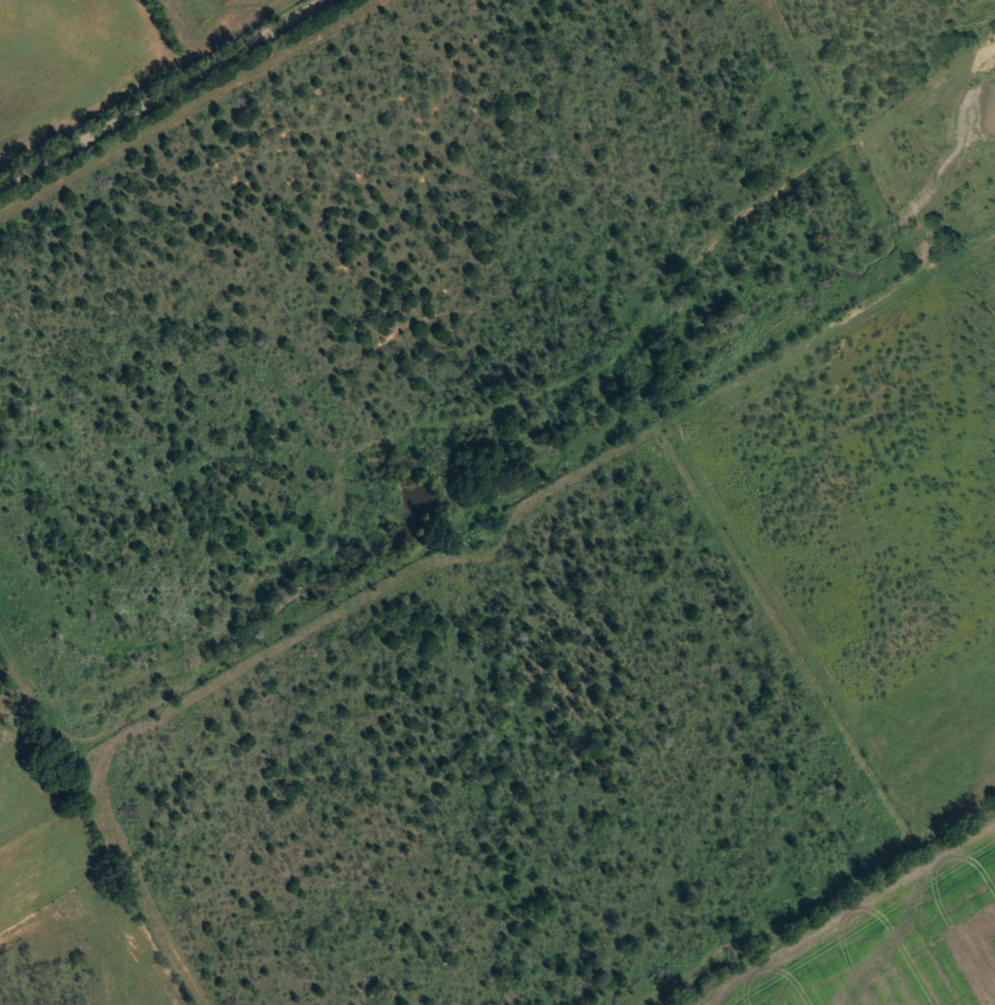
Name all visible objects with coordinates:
road: (153, 90)

